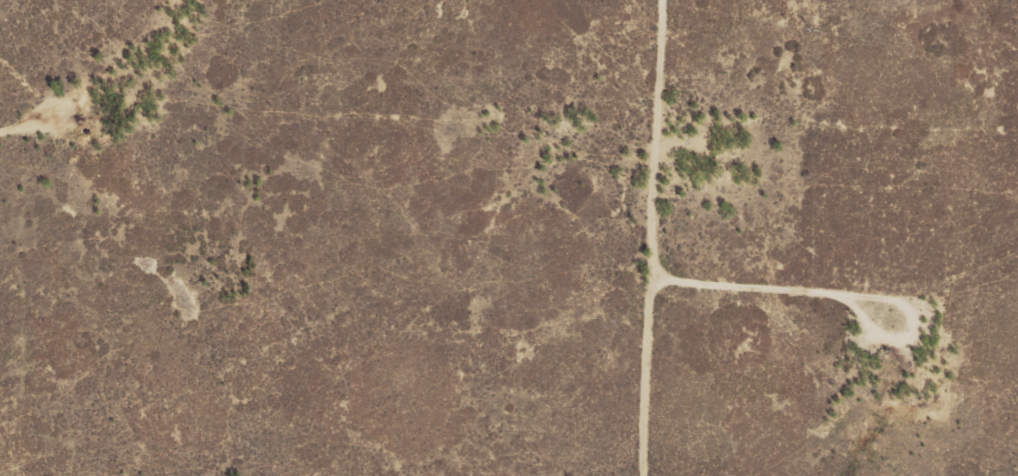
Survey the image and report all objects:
road: (148, 120)
road: (863, 153)
road: (703, 239)
road: (93, 267)

